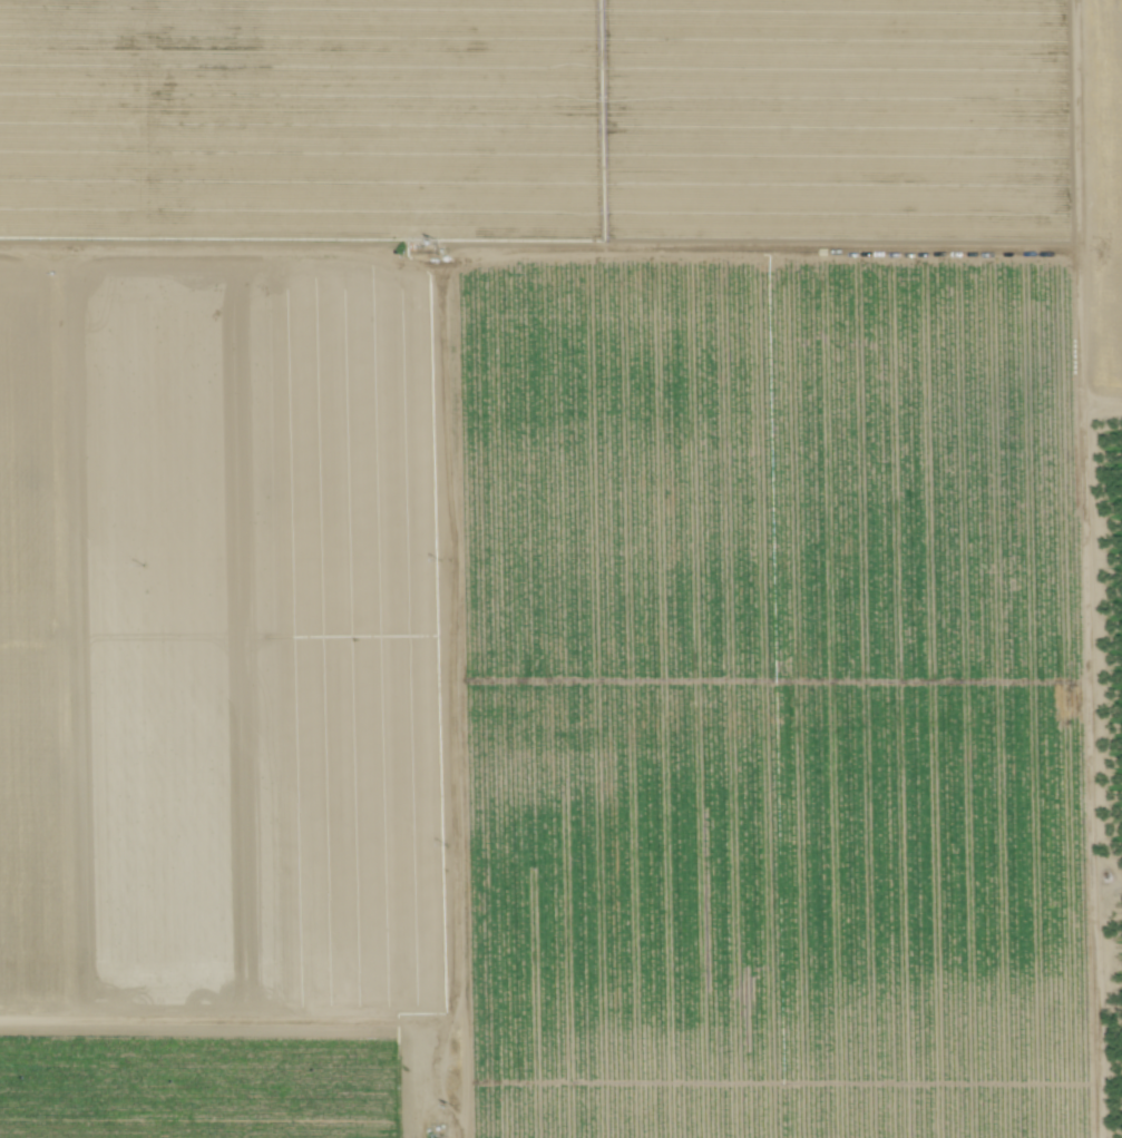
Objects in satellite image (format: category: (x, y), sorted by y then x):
road: (1038, 985)

